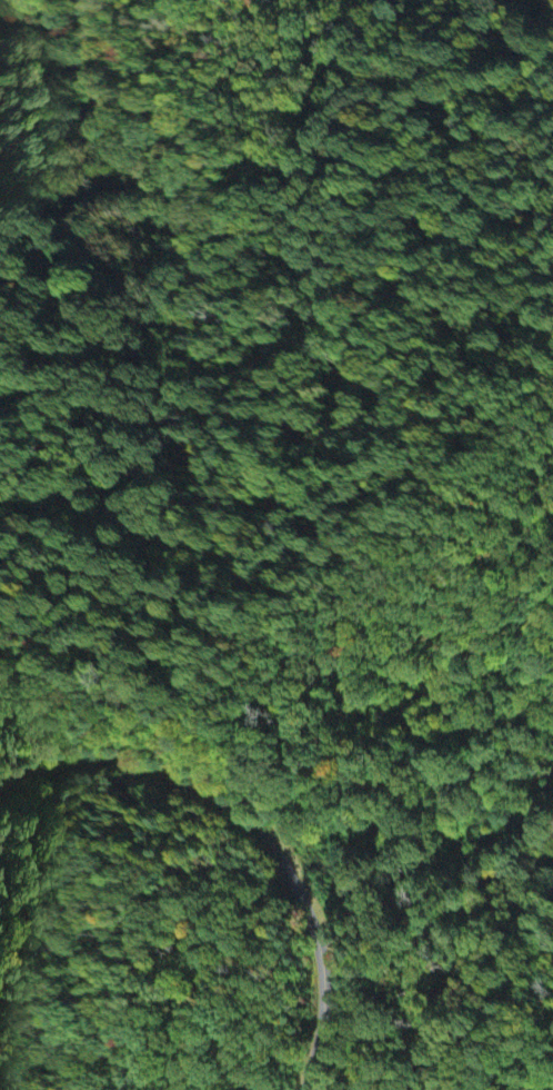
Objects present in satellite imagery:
road: (255, 832)

